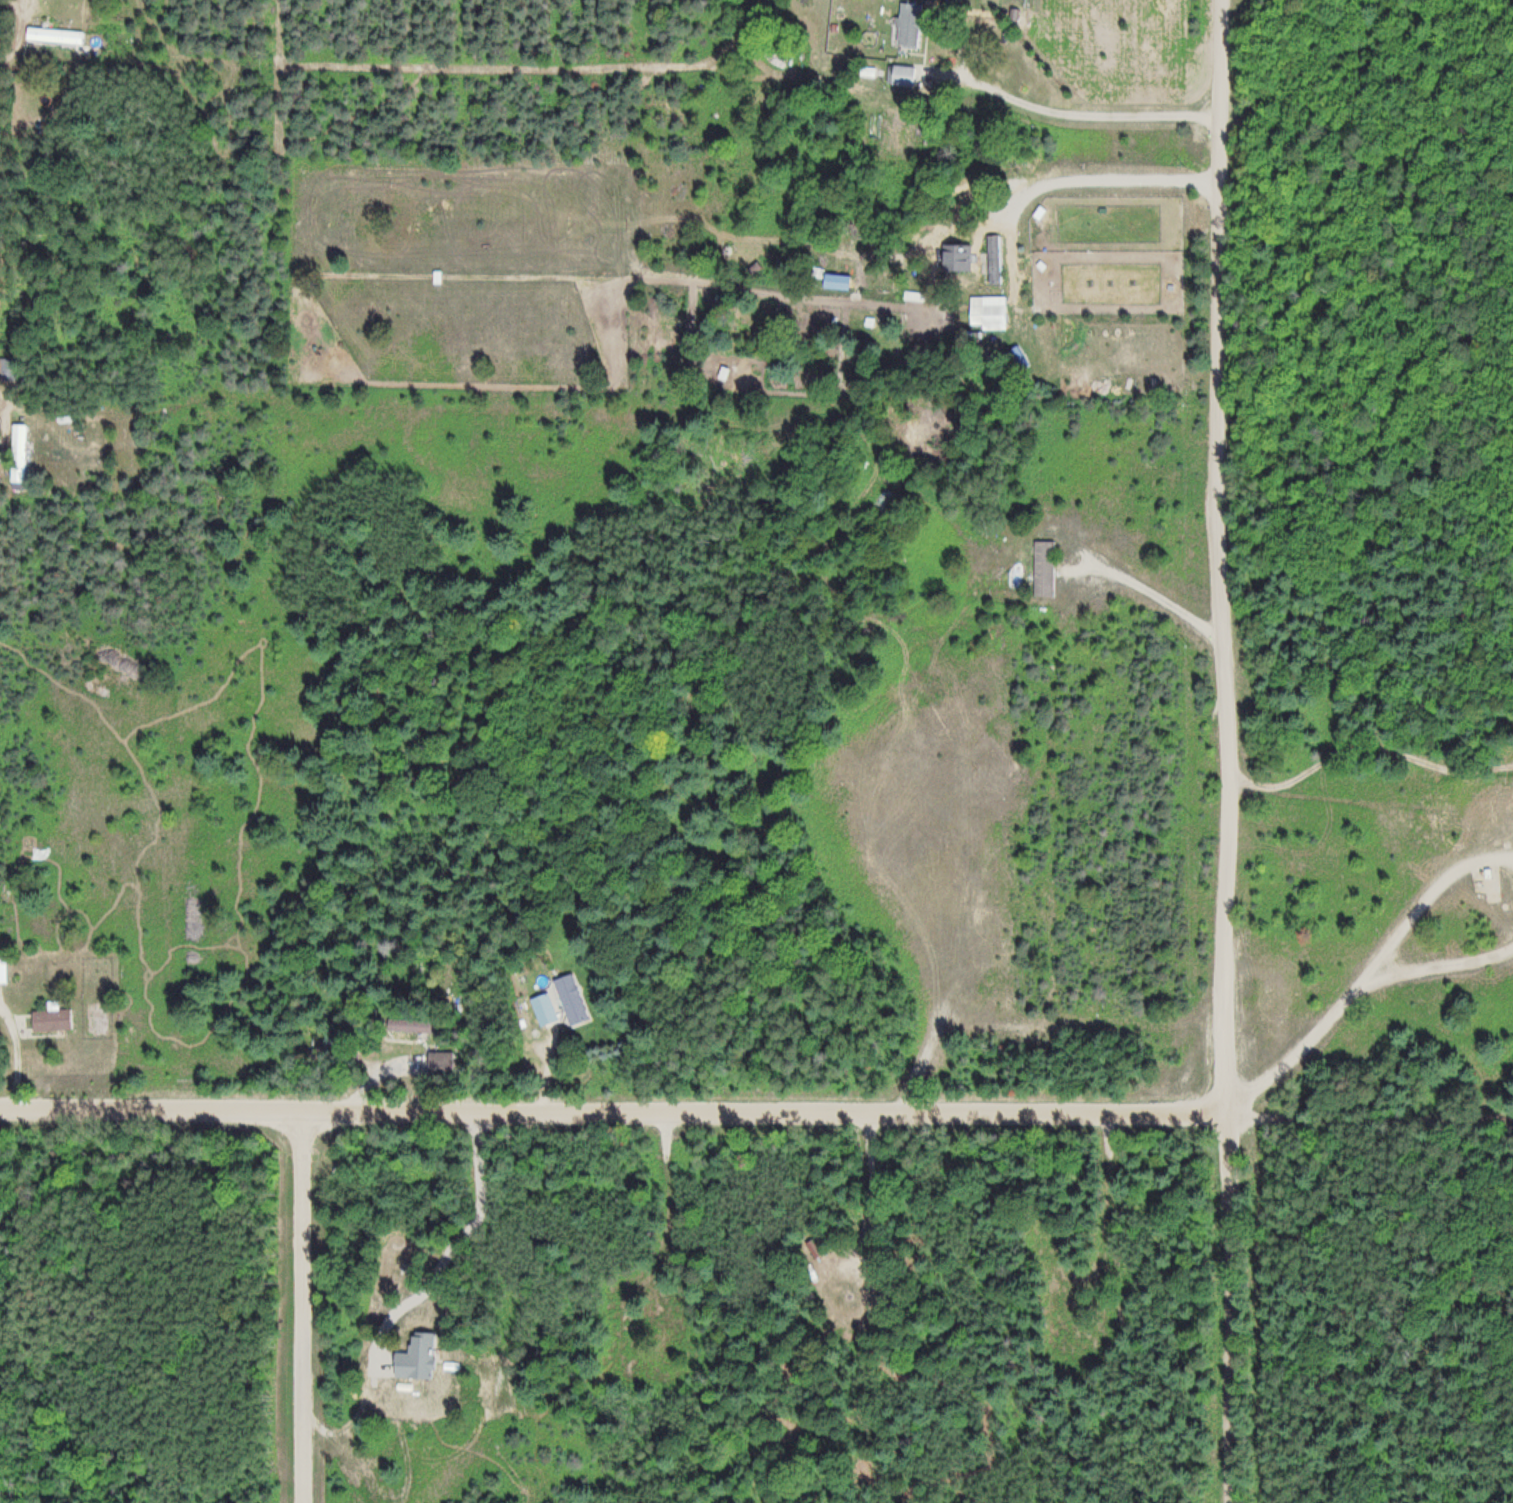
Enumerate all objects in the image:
building: (907, 24)
building: (59, 36)
building: (901, 75)
building: (995, 259)
building: (986, 312)
building: (22, 452)
building: (884, 499)
road: (1218, 553)
building: (1041, 566)
road: (1143, 588)
road: (1363, 749)
road: (1426, 897)
building: (5, 967)
road: (1352, 992)
building: (575, 999)
building: (548, 1009)
building: (57, 1019)
building: (416, 1025)
building: (446, 1062)
road: (613, 1113)
road: (1368, 1120)
road: (1231, 1305)
road: (301, 1308)

